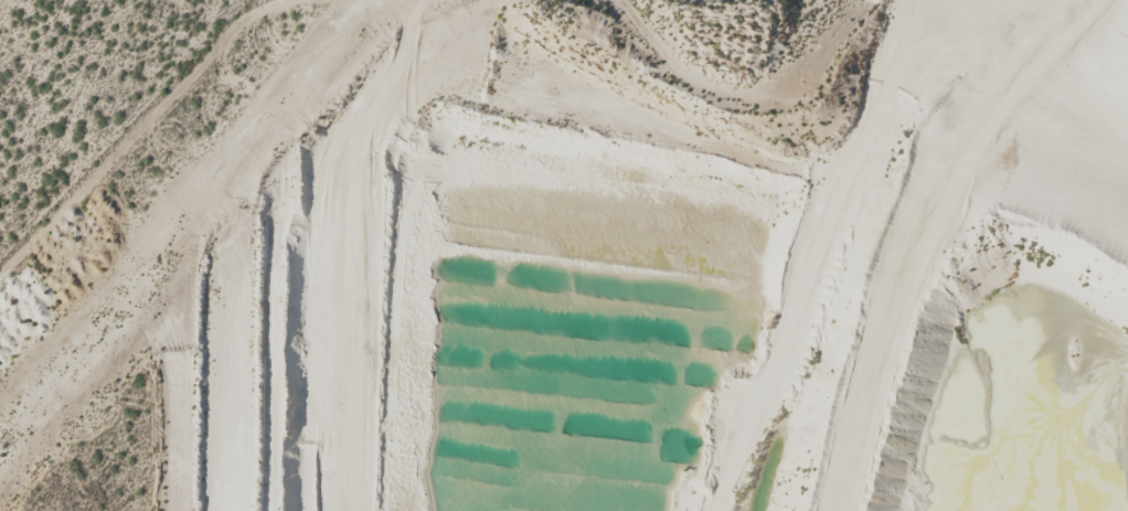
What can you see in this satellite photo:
quarry: (598, 267)
road: (777, 288)

